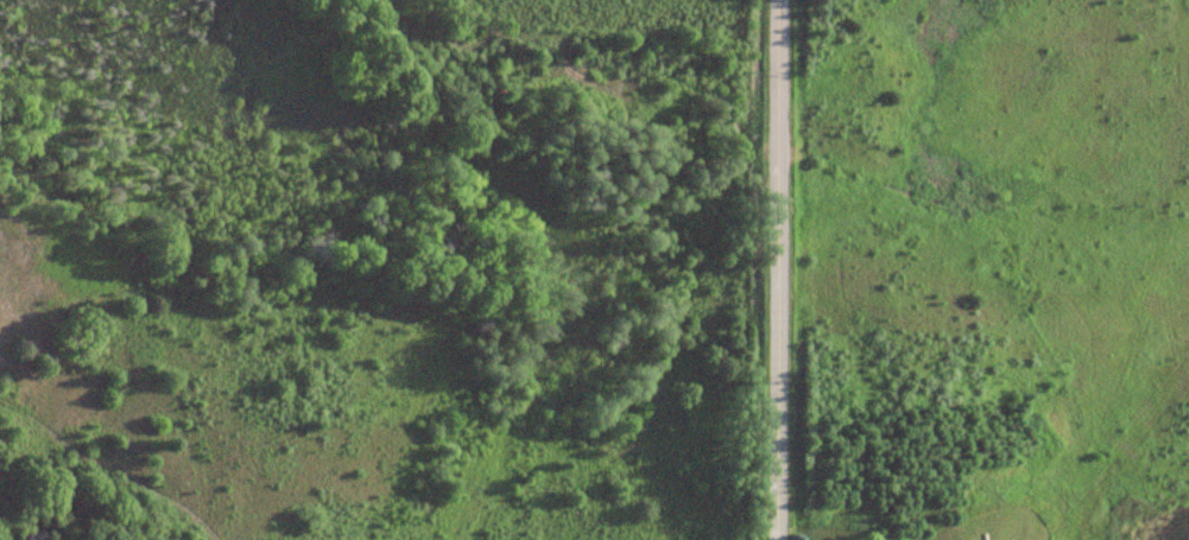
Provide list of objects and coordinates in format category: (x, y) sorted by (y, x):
road: (780, 269)

